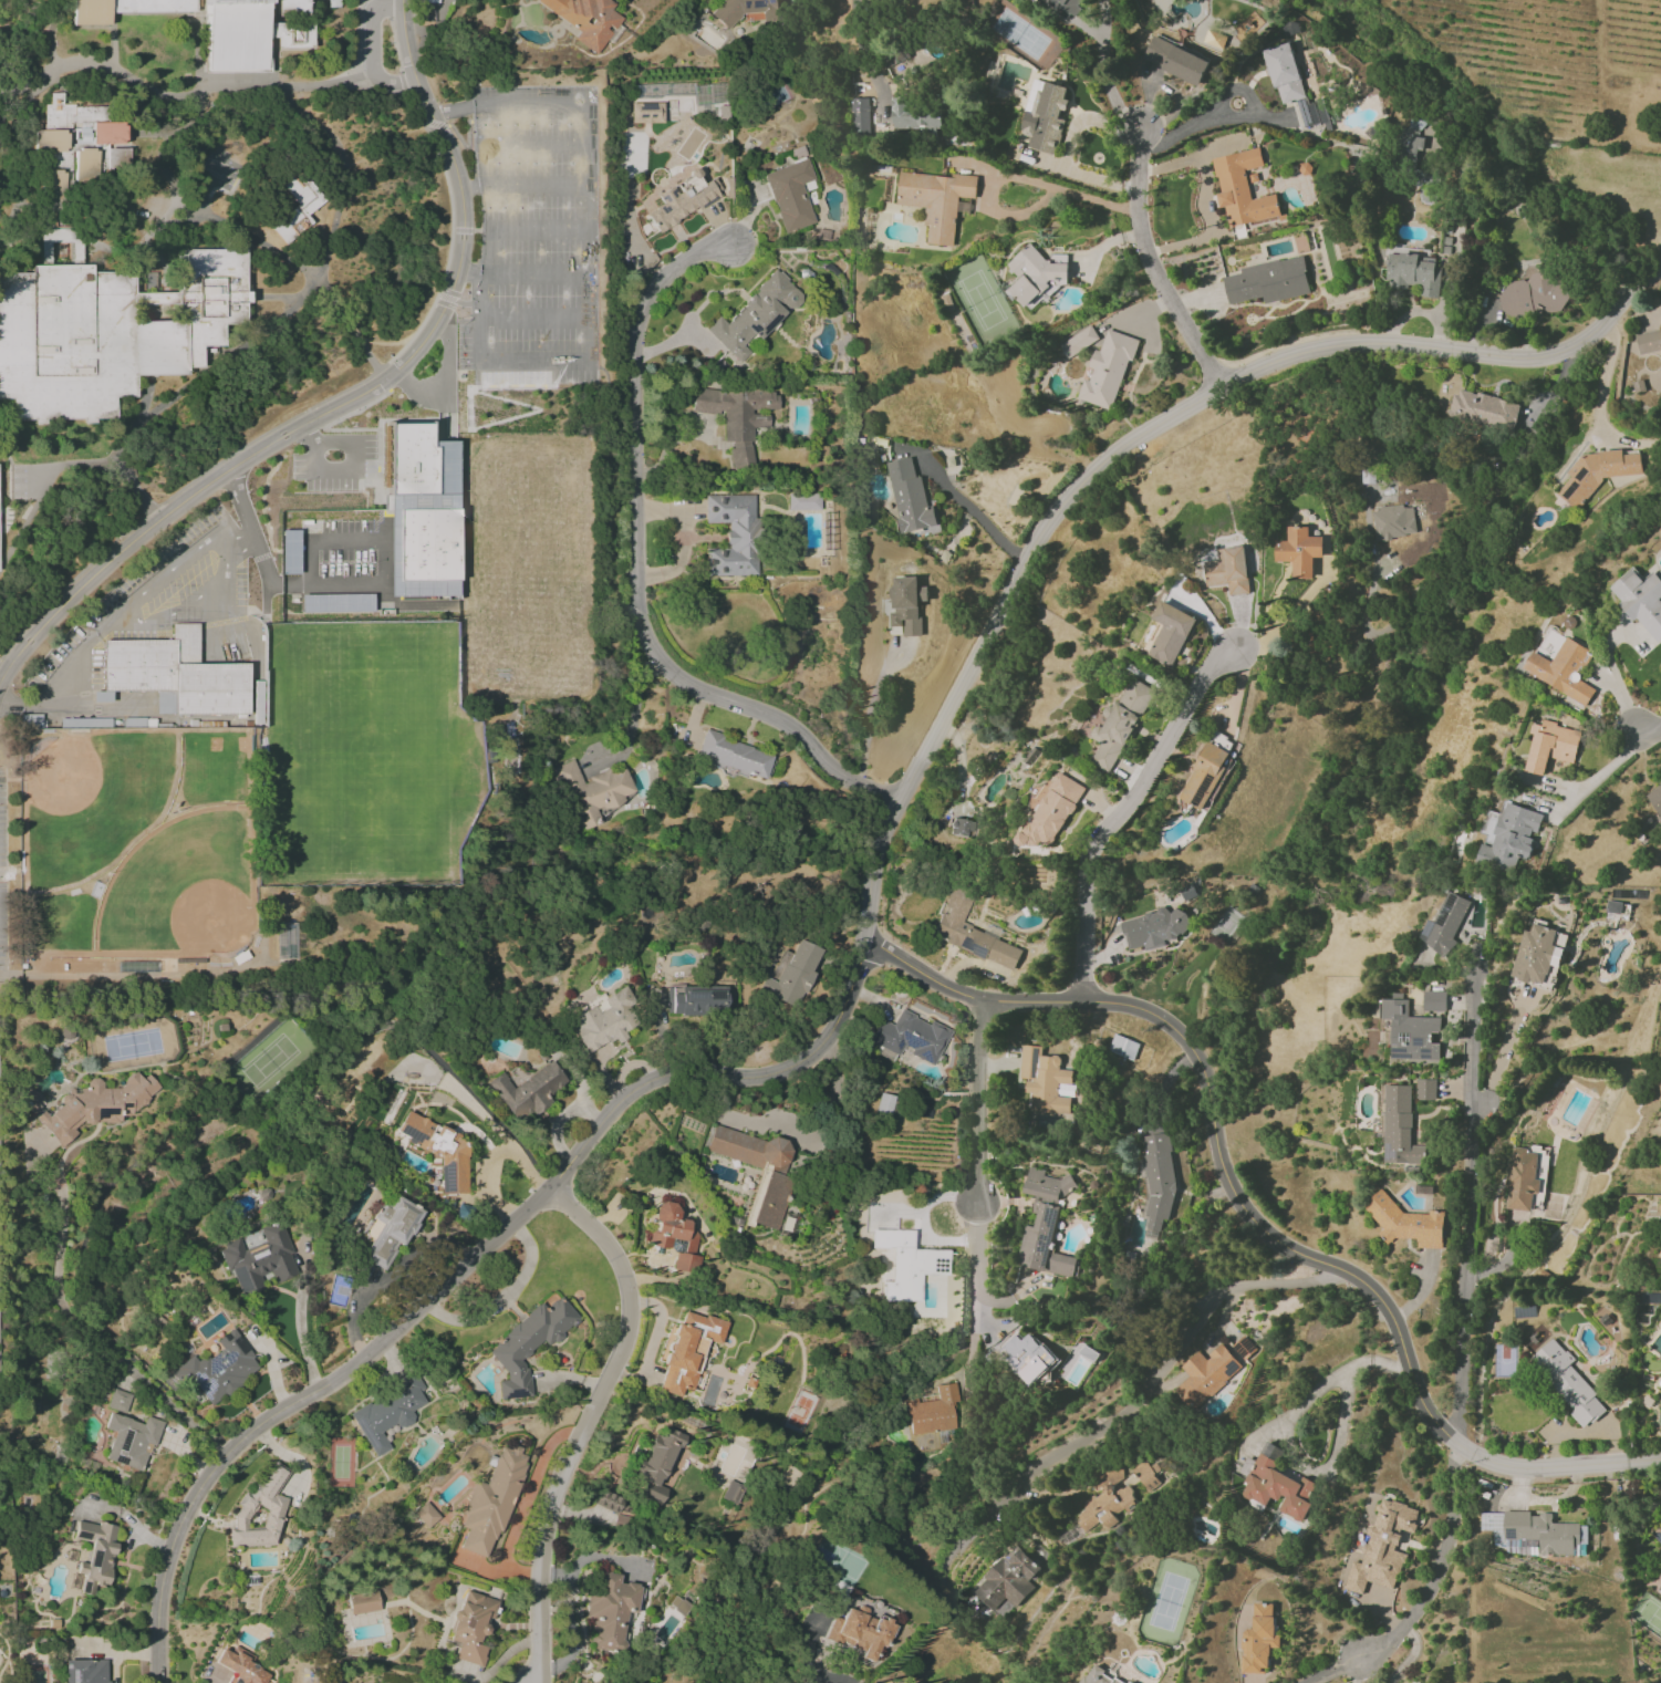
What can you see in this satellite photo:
building: (1067, 6)
building: (126, 10)
building: (745, 11)
building: (585, 19)
road: (372, 25)
building: (250, 33)
road: (869, 55)
building: (1175, 60)
road: (1104, 72)
road: (393, 84)
building: (1293, 84)
road: (179, 96)
building: (915, 115)
building: (1044, 115)
road: (1211, 116)
building: (861, 122)
road: (585, 123)
building: (75, 146)
building: (675, 160)
parking lot: (214, 167)
road: (340, 172)
road: (1011, 178)
building: (1426, 186)
road: (522, 187)
street lamp: (453, 188)
building: (1242, 188)
building: (789, 195)
building: (935, 200)
building: (303, 211)
road: (744, 219)
road: (558, 230)
road: (250, 237)
parking lot: (531, 241)
road: (17, 242)
road: (1153, 264)
building: (1413, 272)
building: (1035, 276)
building: (1268, 281)
road: (478, 288)
building: (1535, 294)
building: (755, 314)
road: (532, 319)
road: (586, 320)
road: (347, 324)
building: (108, 328)
road: (683, 331)
building: (1077, 341)
building: (1649, 342)
road: (370, 359)
street lamp: (424, 360)
building: (1107, 368)
road: (1608, 372)
road: (351, 399)
street lamp: (363, 406)
building: (1482, 409)
road: (404, 414)
building: (737, 417)
road: (1138, 438)
street lamp: (301, 441)
street lamp: (262, 465)
road: (84, 466)
parking lot: (37, 471)
building: (1597, 472)
road: (128, 475)
building: (911, 499)
road: (146, 500)
building: (802, 501)
road: (972, 510)
building: (422, 512)
building: (1392, 521)
building: (731, 534)
road: (682, 539)
building: (1298, 550)
building: (289, 552)
park: (525, 568)
building: (1227, 570)
road: (636, 571)
road: (143, 595)
building: (1640, 600)
building: (336, 603)
building: (906, 603)
building: (1170, 633)
building: (1549, 642)
parking lot: (160, 643)
road: (1611, 667)
building: (1563, 671)
road: (2, 673)
building: (175, 675)
road: (868, 709)
road: (631, 717)
building: (1119, 723)
road: (1651, 731)
building: (1550, 745)
park: (370, 754)
building: (734, 756)
road: (1600, 772)
building: (1204, 775)
building: (594, 792)
building: (1655, 798)
park: (92, 801)
building: (1051, 810)
road: (1122, 811)
building: (959, 828)
building: (1507, 835)
park: (185, 890)
building: (1613, 906)
building: (1445, 923)
building: (1155, 927)
building: (970, 932)
building: (1534, 953)
building: (791, 973)
road: (966, 995)
building: (695, 999)
building: (1434, 1000)
building: (604, 1020)
building: (1410, 1030)
building: (910, 1037)
building: (1123, 1047)
building: (1045, 1081)
building: (526, 1089)
building: (1425, 1089)
road: (977, 1100)
building: (31, 1101)
building: (883, 1104)
building: (95, 1105)
road: (823, 1111)
building: (1397, 1125)
road: (1212, 1130)
building: (438, 1151)
road: (495, 1156)
building: (1520, 1180)
building: (1156, 1182)
building: (768, 1195)
road: (1468, 1206)
building: (1660, 1211)
building: (1405, 1222)
building: (1045, 1224)
building: (390, 1232)
building: (675, 1237)
building: (257, 1258)
road: (468, 1260)
road: (976, 1260)
building: (907, 1264)
road: (504, 1299)
road: (301, 1326)
road: (102, 1343)
building: (528, 1344)
road: (1176, 1348)
building: (687, 1351)
building: (1026, 1357)
building: (219, 1368)
building: (1206, 1374)
building: (1567, 1382)
building: (118, 1401)
building: (933, 1412)
building: (386, 1413)
road: (588, 1421)
road: (1285, 1435)
building: (129, 1440)
road: (1456, 1442)
building: (655, 1467)
building: (1146, 1474)
building: (1277, 1484)
building: (731, 1492)
building: (490, 1502)
building: (611, 1502)
building: (1104, 1507)
building: (260, 1511)
building: (426, 1515)
building: (1532, 1531)
building: (1657, 1531)
road: (964, 1536)
building: (1382, 1547)
building: (95, 1555)
building: (1007, 1581)
road: (1432, 1593)
building: (362, 1602)
building: (610, 1611)
building: (471, 1628)
building: (861, 1632)
building: (1258, 1640)
road: (808, 1659)
building: (240, 1665)
building: (85, 1671)
building: (1100, 1676)

